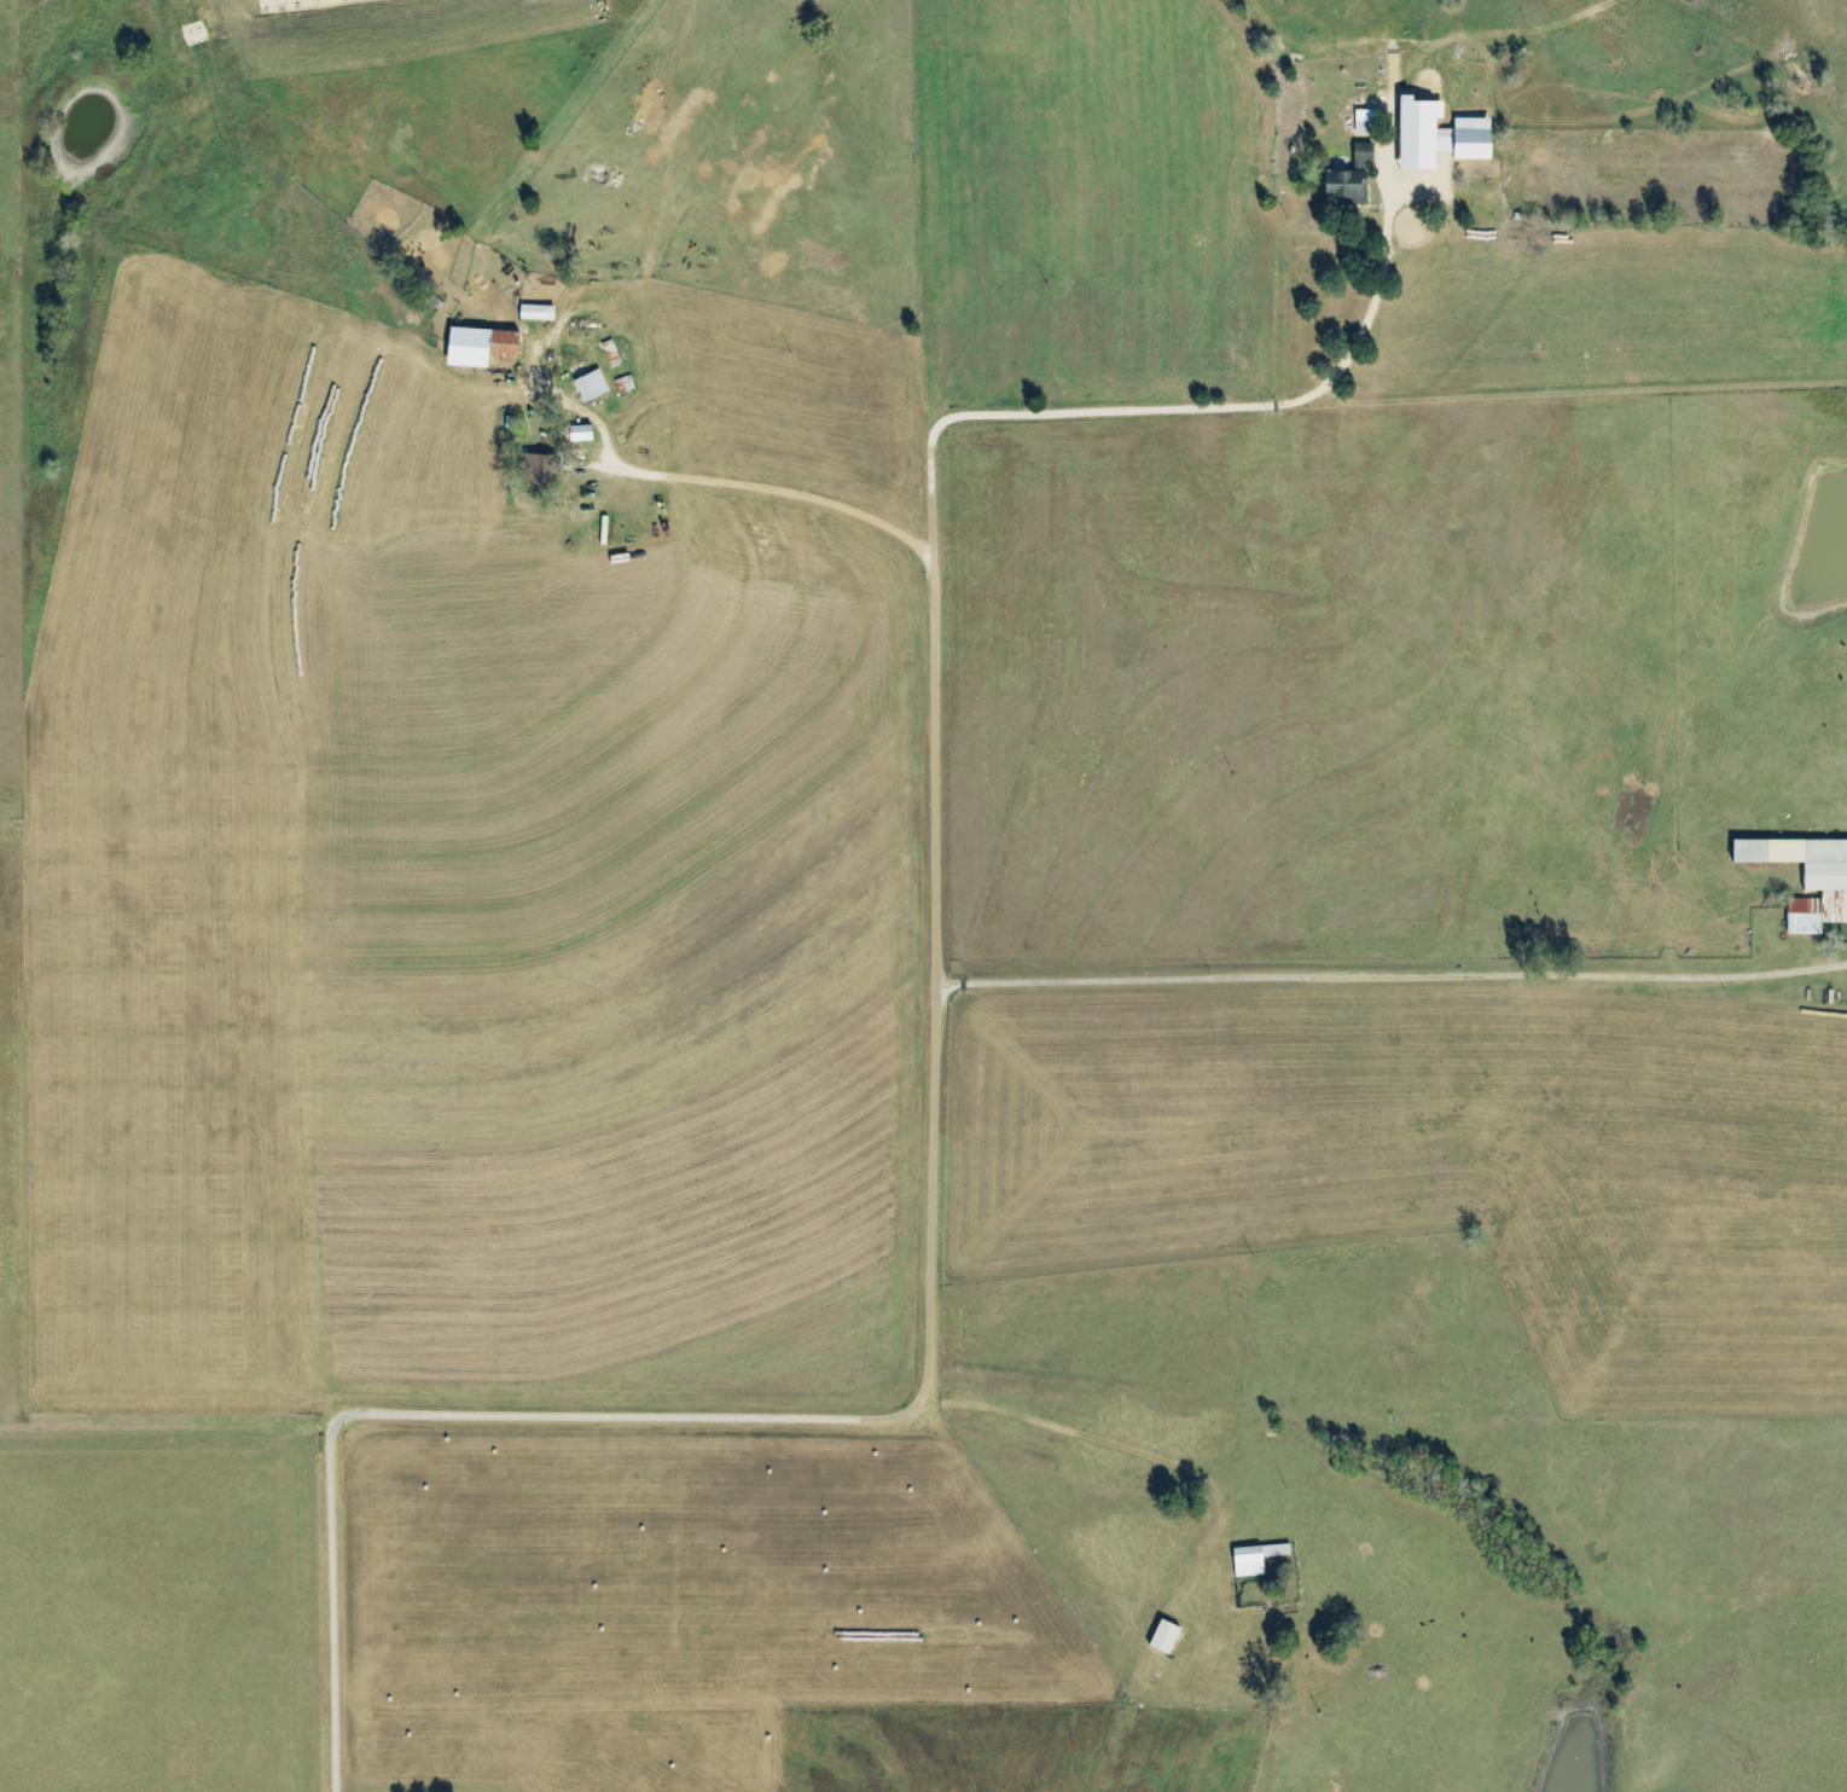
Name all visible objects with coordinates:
building: (1440, 134)
building: (1351, 182)
building: (538, 312)
building: (482, 346)
building: (592, 385)
road: (1235, 406)
building: (582, 433)
building: (538, 469)
road: (721, 487)
road: (1373, 980)
road: (924, 1399)
building: (1256, 1558)
building: (1166, 1636)

